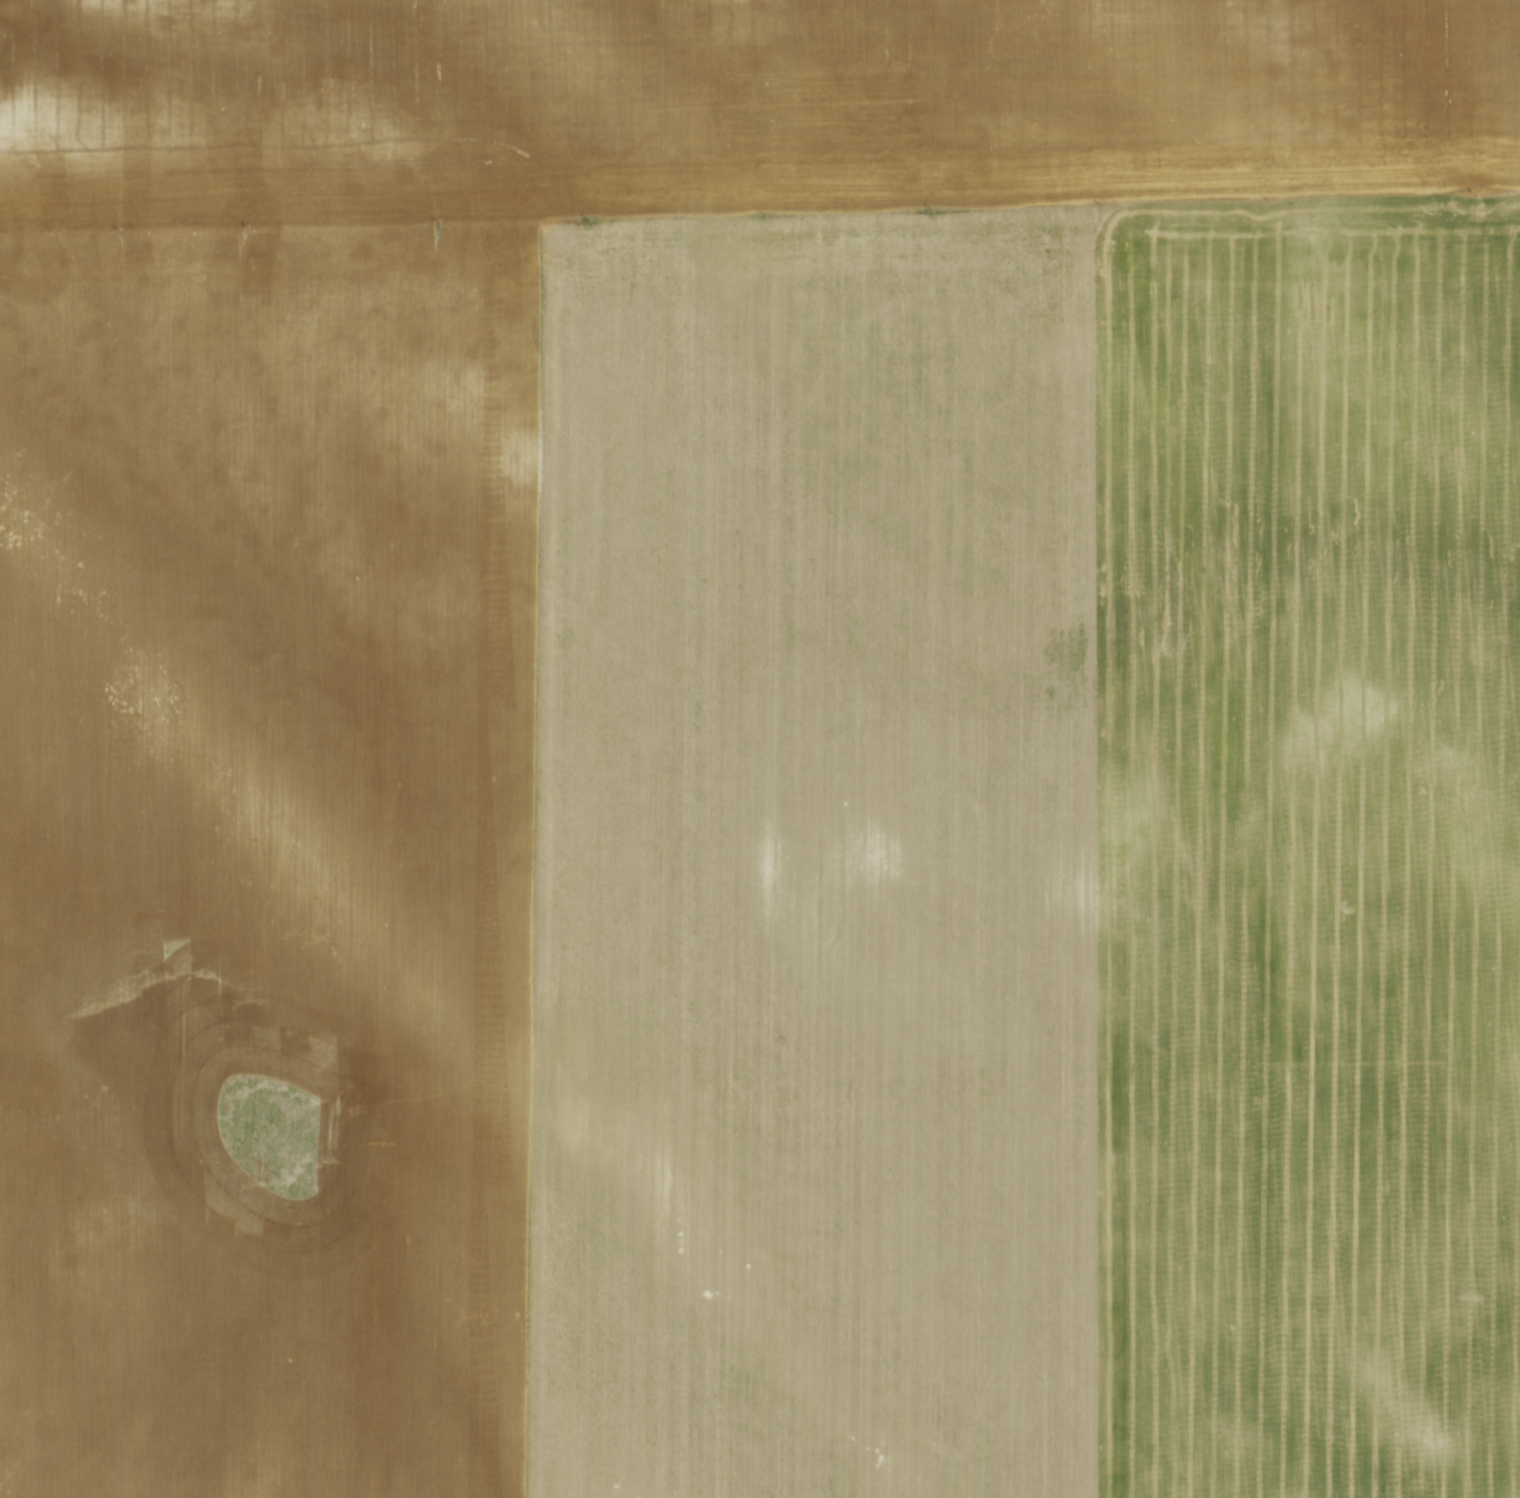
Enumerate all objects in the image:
crop: (760, 749)

